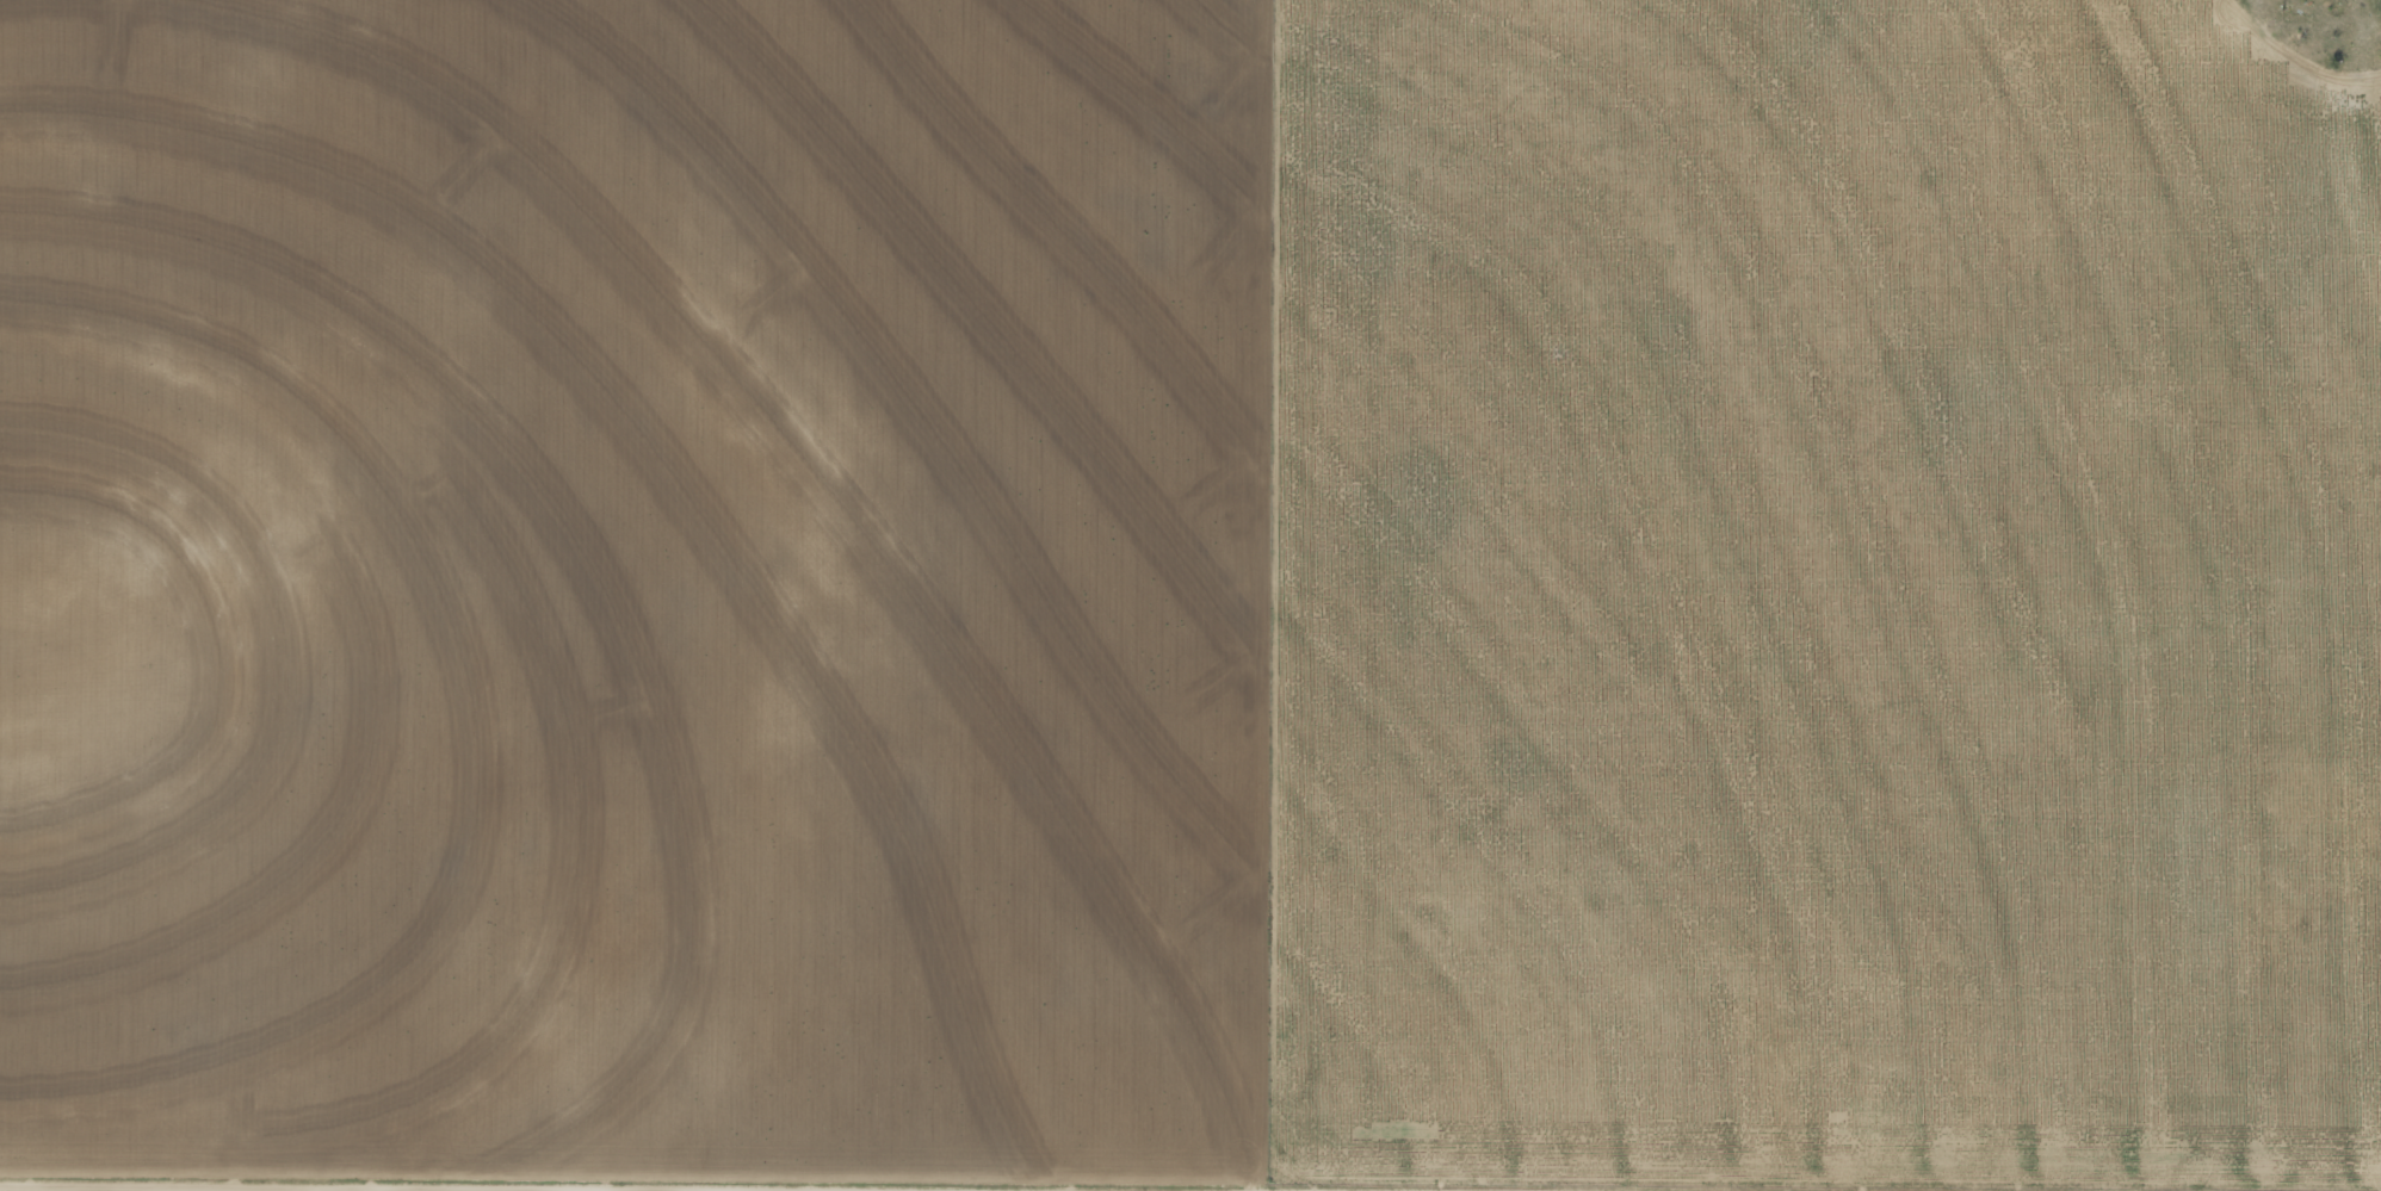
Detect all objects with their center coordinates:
road: (29, 1190)

